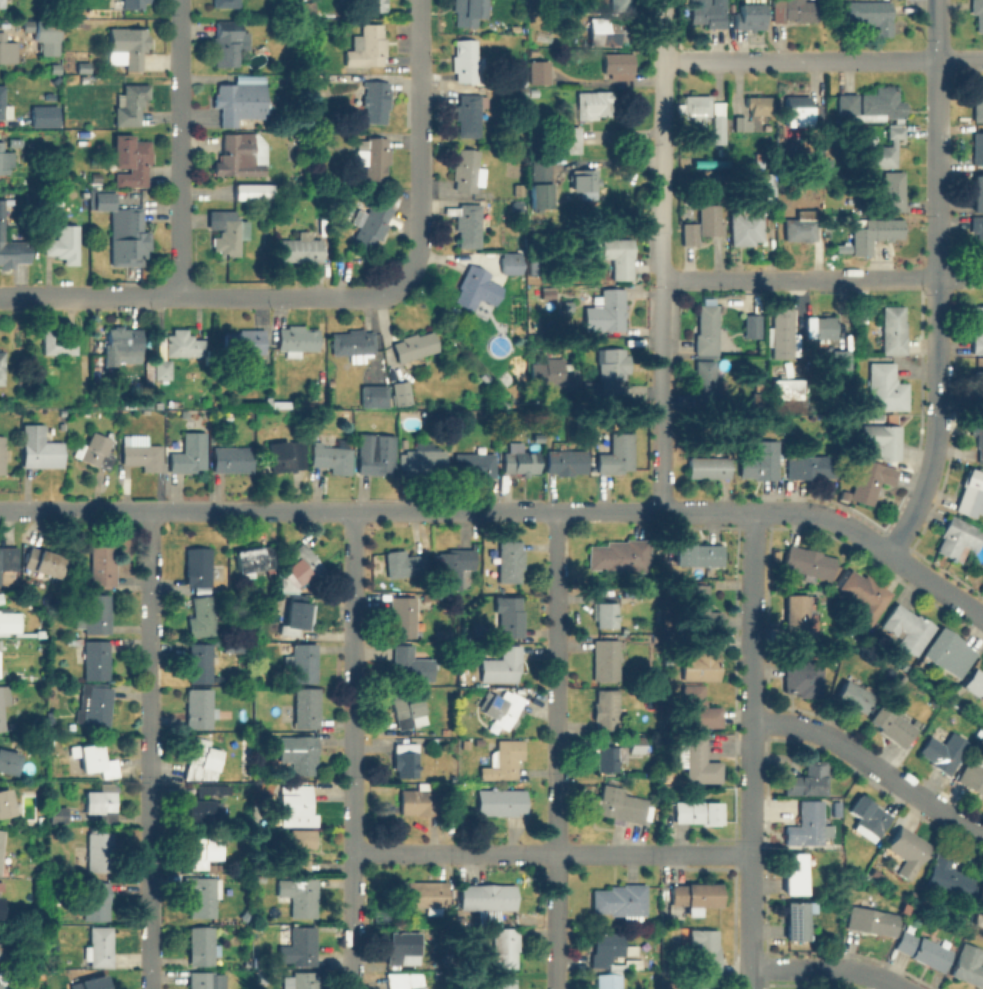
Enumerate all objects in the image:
building: (2, 3)
building: (225, 3)
building: (133, 4)
building: (621, 4)
building: (376, 5)
building: (307, 7)
building: (794, 10)
building: (468, 11)
building: (708, 12)
building: (978, 13)
building: (869, 14)
building: (750, 18)
building: (608, 29)
building: (45, 31)
building: (226, 44)
building: (367, 46)
building: (127, 47)
building: (6, 48)
road: (822, 58)
building: (465, 59)
building: (619, 64)
building: (82, 68)
building: (539, 73)
building: (521, 81)
building: (522, 92)
building: (240, 101)
building: (377, 101)
building: (758, 103)
building: (978, 103)
building: (130, 104)
building: (594, 104)
building: (872, 104)
building: (4, 105)
building: (696, 105)
building: (801, 111)
building: (468, 114)
building: (45, 117)
building: (739, 122)
building: (718, 132)
building: (300, 134)
building: (569, 138)
road: (936, 138)
road: (419, 140)
building: (977, 147)
road: (179, 148)
building: (881, 149)
building: (240, 156)
building: (371, 157)
building: (5, 159)
building: (130, 160)
building: (825, 163)
building: (468, 170)
building: (95, 177)
building: (540, 184)
building: (587, 186)
building: (767, 186)
building: (519, 188)
building: (893, 190)
building: (253, 191)
building: (978, 192)
building: (52, 199)
building: (101, 199)
building: (517, 206)
building: (711, 218)
building: (372, 219)
building: (470, 225)
building: (802, 225)
building: (747, 226)
building: (978, 230)
building: (227, 232)
building: (874, 232)
building: (689, 234)
building: (131, 238)
building: (64, 244)
building: (10, 246)
building: (301, 248)
road: (661, 255)
building: (618, 256)
building: (510, 264)
building: (534, 268)
road: (821, 277)
building: (543, 278)
building: (476, 290)
building: (548, 294)
road: (205, 295)
building: (607, 313)
building: (753, 328)
building: (977, 328)
building: (707, 329)
building: (892, 329)
building: (824, 330)
building: (781, 336)
building: (123, 341)
building: (298, 341)
building: (246, 343)
building: (354, 343)
building: (59, 344)
building: (184, 345)
building: (415, 347)
building: (841, 358)
building: (2, 369)
building: (164, 370)
building: (609, 372)
building: (521, 374)
building: (553, 376)
building: (707, 384)
building: (758, 388)
building: (886, 388)
building: (85, 390)
building: (787, 390)
building: (977, 390)
building: (400, 393)
building: (374, 396)
building: (756, 401)
building: (149, 404)
building: (282, 404)
building: (185, 414)
road: (937, 421)
building: (539, 438)
building: (978, 438)
building: (881, 442)
building: (40, 449)
building: (97, 452)
building: (142, 453)
building: (191, 454)
building: (377, 454)
building: (3, 455)
building: (618, 455)
building: (286, 456)
building: (232, 458)
building: (333, 459)
building: (759, 460)
building: (426, 463)
building: (521, 463)
building: (567, 464)
building: (809, 465)
building: (475, 466)
building: (709, 467)
building: (870, 481)
building: (971, 494)
road: (329, 510)
road: (705, 510)
building: (958, 537)
road: (874, 545)
building: (698, 555)
building: (622, 557)
building: (9, 560)
building: (255, 560)
building: (511, 561)
building: (45, 563)
building: (809, 564)
building: (306, 565)
building: (405, 565)
building: (104, 566)
building: (455, 567)
building: (199, 568)
building: (865, 596)
building: (1, 598)
building: (700, 609)
building: (98, 614)
building: (607, 615)
building: (202, 617)
building: (403, 617)
building: (511, 617)
building: (295, 620)
building: (796, 620)
building: (10, 622)
building: (907, 629)
building: (948, 653)
building: (98, 659)
building: (606, 660)
building: (702, 660)
building: (201, 663)
building: (302, 663)
building: (412, 665)
building: (503, 666)
building: (804, 679)
building: (975, 684)
building: (853, 696)
building: (4, 701)
building: (96, 708)
building: (200, 708)
building: (307, 708)
building: (698, 708)
building: (504, 709)
building: (607, 709)
building: (409, 711)
building: (893, 726)
building: (636, 744)
road: (149, 749)
road: (354, 749)
road: (555, 749)
road: (750, 750)
building: (943, 752)
building: (608, 754)
building: (299, 755)
building: (204, 757)
building: (407, 759)
building: (503, 759)
building: (9, 761)
building: (98, 761)
building: (697, 761)
road: (871, 764)
building: (973, 776)
building: (807, 780)
building: (214, 789)
building: (418, 801)
building: (500, 801)
building: (6, 803)
building: (103, 803)
building: (297, 803)
building: (617, 805)
building: (206, 812)
building: (699, 812)
building: (60, 815)
building: (869, 815)
building: (806, 824)
building: (0, 829)
building: (300, 848)
building: (204, 850)
building: (906, 851)
building: (100, 852)
road: (506, 852)
road: (704, 853)
building: (5, 857)
building: (794, 873)
building: (946, 876)
building: (981, 889)
building: (203, 894)
building: (298, 896)
building: (428, 896)
building: (696, 896)
building: (1, 900)
building: (97, 901)
building: (488, 901)
building: (621, 901)
building: (977, 918)
building: (797, 919)
building: (873, 921)
building: (202, 946)
building: (100, 947)
building: (301, 947)
building: (406, 947)
building: (506, 948)
building: (610, 948)
building: (922, 950)
building: (705, 952)
building: (8, 954)
building: (969, 965)
road: (828, 967)
building: (616, 975)
building: (406, 980)
building: (204, 981)
building: (303, 981)
building: (503, 983)
building: (90, 984)
building: (694, 986)
building: (6, 987)

